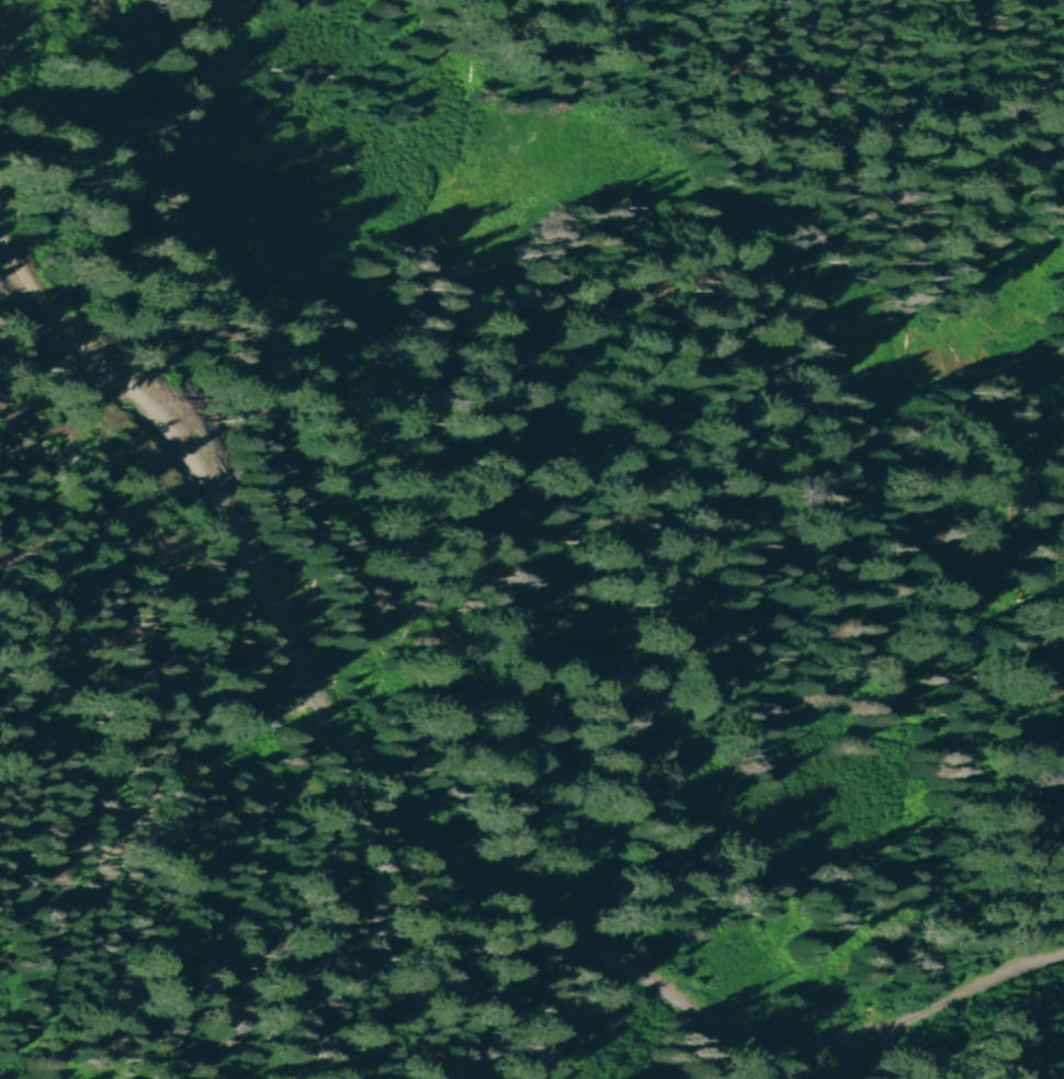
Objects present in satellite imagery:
road: (412, 836)

